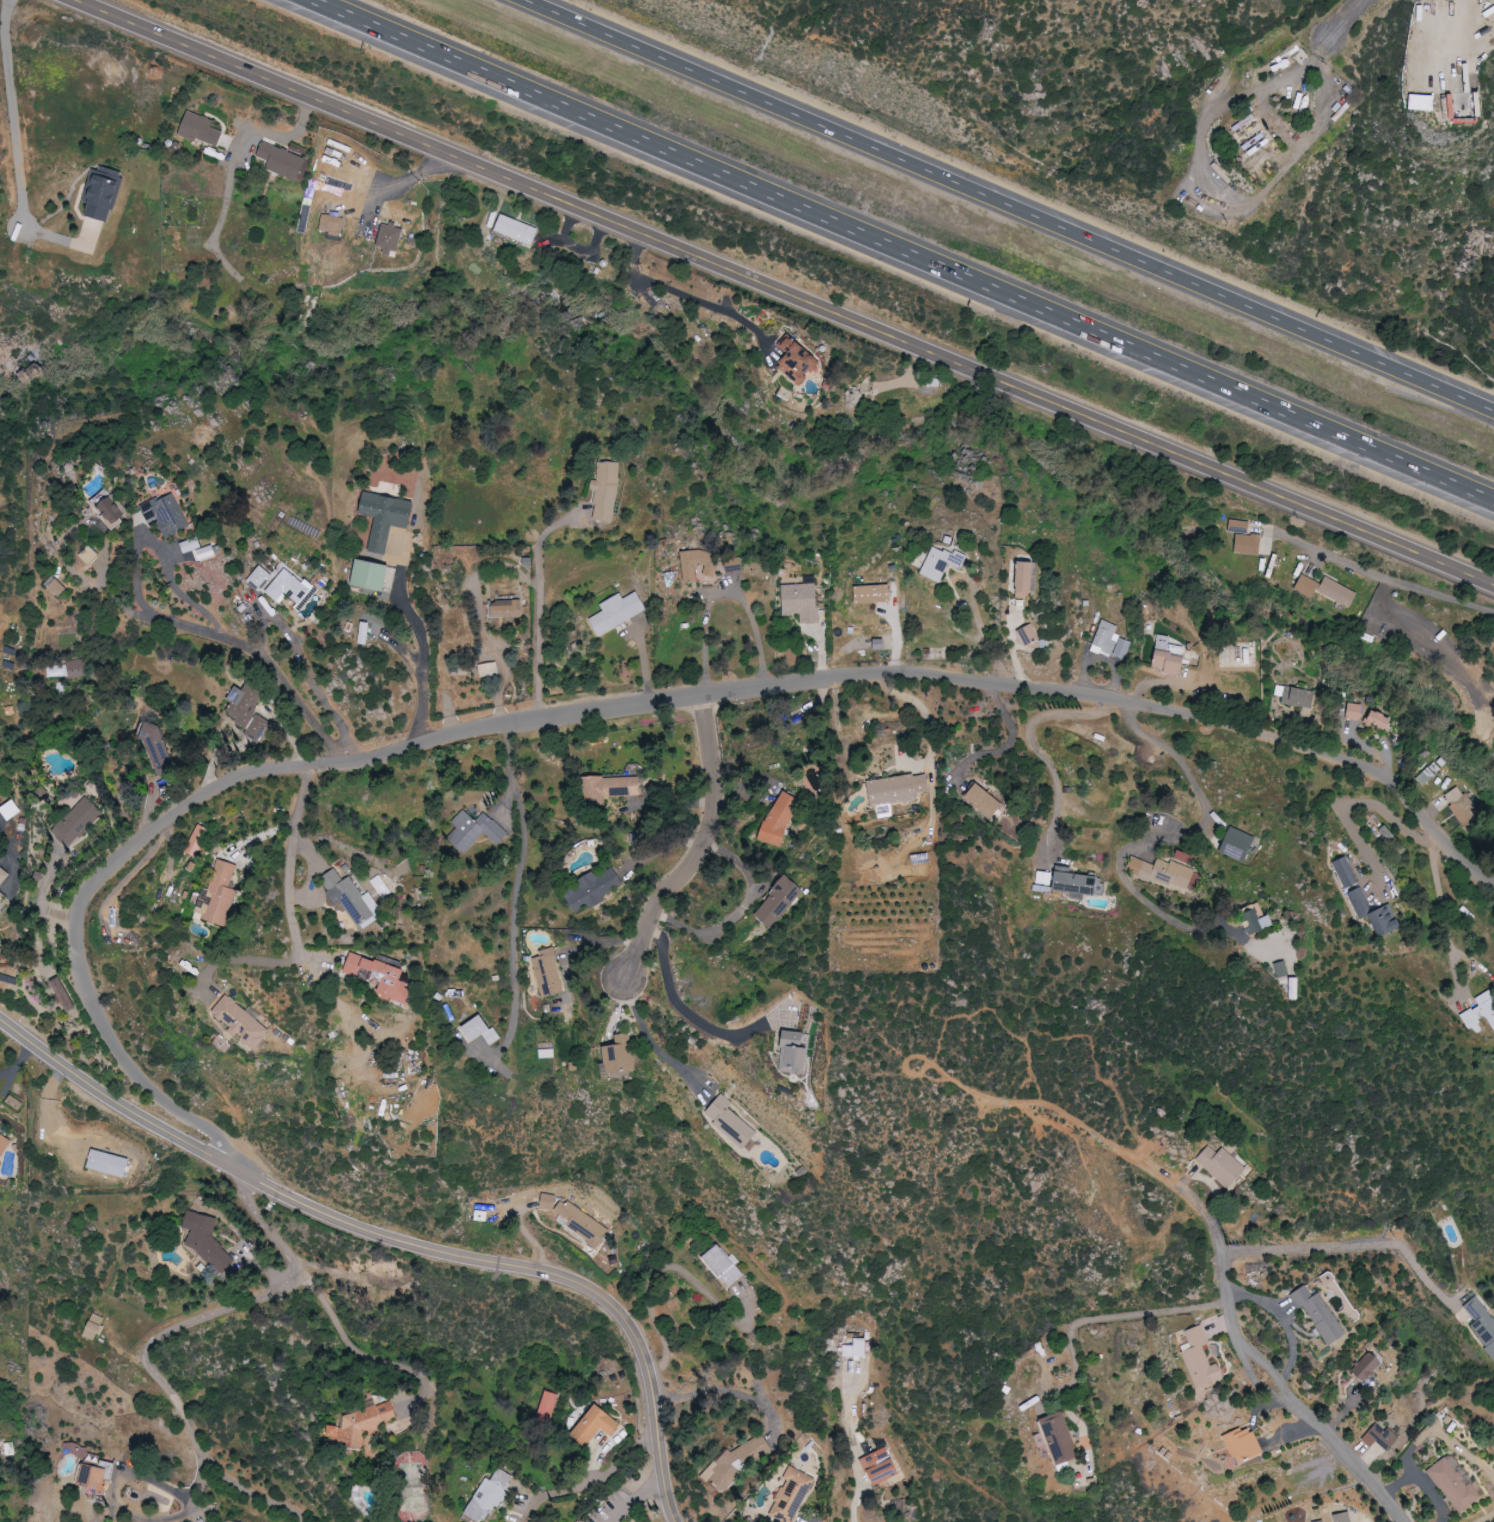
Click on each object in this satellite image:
road: (1344, 26)
road: (11, 91)
building: (1423, 102)
building: (199, 127)
road: (237, 145)
building: (282, 161)
road: (391, 181)
building: (103, 192)
road: (1213, 196)
road: (1009, 204)
building: (332, 224)
building: (517, 229)
building: (390, 239)
road: (908, 249)
road: (778, 292)
road: (689, 298)
building: (804, 360)
building: (606, 491)
building: (102, 497)
building: (114, 514)
building: (166, 515)
building: (387, 517)
building: (1239, 526)
building: (1249, 544)
building: (192, 545)
building: (207, 552)
road: (159, 553)
building: (89, 555)
building: (943, 563)
building: (700, 565)
building: (372, 575)
road: (1384, 575)
building: (1030, 577)
building: (57, 586)
building: (285, 587)
building: (1308, 587)
road: (723, 590)
building: (1339, 592)
building: (874, 594)
building: (803, 602)
road: (538, 605)
building: (507, 610)
building: (618, 612)
building: (364, 633)
building: (1031, 635)
road: (988, 642)
building: (1112, 642)
building: (880, 644)
road: (424, 653)
building: (1169, 657)
road: (300, 660)
road: (264, 663)
building: (77, 668)
building: (487, 669)
building: (57, 671)
road: (1173, 681)
building: (1300, 697)
road: (615, 706)
road: (918, 707)
building: (248, 711)
building: (1351, 711)
building: (1374, 719)
road: (1012, 743)
road: (1034, 745)
building: (156, 748)
building: (608, 788)
building: (896, 792)
building: (984, 800)
building: (1458, 803)
road: (1350, 804)
building: (10, 810)
building: (781, 819)
building: (74, 824)
building: (474, 828)
building: (1386, 834)
building: (197, 841)
road: (1155, 842)
building: (1236, 844)
road: (702, 850)
building: (1344, 872)
building: (1164, 873)
building: (3, 876)
building: (1043, 881)
building: (1075, 883)
building: (381, 887)
road: (517, 887)
road: (45, 889)
building: (594, 890)
building: (219, 893)
building: (2, 897)
building: (348, 898)
building: (779, 902)
building: (1256, 910)
road: (743, 911)
building: (1371, 912)
road: (1444, 913)
road: (294, 914)
building: (1254, 921)
road: (1474, 961)
building: (549, 973)
building: (380, 975)
road: (699, 1007)
building: (1480, 1011)
building: (241, 1022)
building: (481, 1029)
building: (546, 1053)
building: (795, 1053)
building: (621, 1054)
building: (731, 1122)
building: (4, 1145)
building: (1222, 1165)
building: (575, 1220)
road: (396, 1239)
building: (210, 1244)
road: (1353, 1245)
building: (723, 1265)
building: (1321, 1314)
road: (1112, 1316)
road: (197, 1320)
building: (1483, 1322)
building: (95, 1327)
building: (856, 1348)
road: (359, 1354)
building: (1200, 1358)
building: (1369, 1365)
road: (1258, 1370)
road: (725, 1389)
building: (547, 1406)
building: (361, 1425)
building: (596, 1425)
building: (1381, 1437)
building: (1057, 1439)
building: (1244, 1445)
building: (77, 1450)
building: (881, 1466)
building: (96, 1474)
building: (1455, 1485)
road: (117, 1493)
building: (792, 1495)
building: (490, 1496)
road: (640, 1501)
road: (855, 1501)
building: (1344, 1517)

